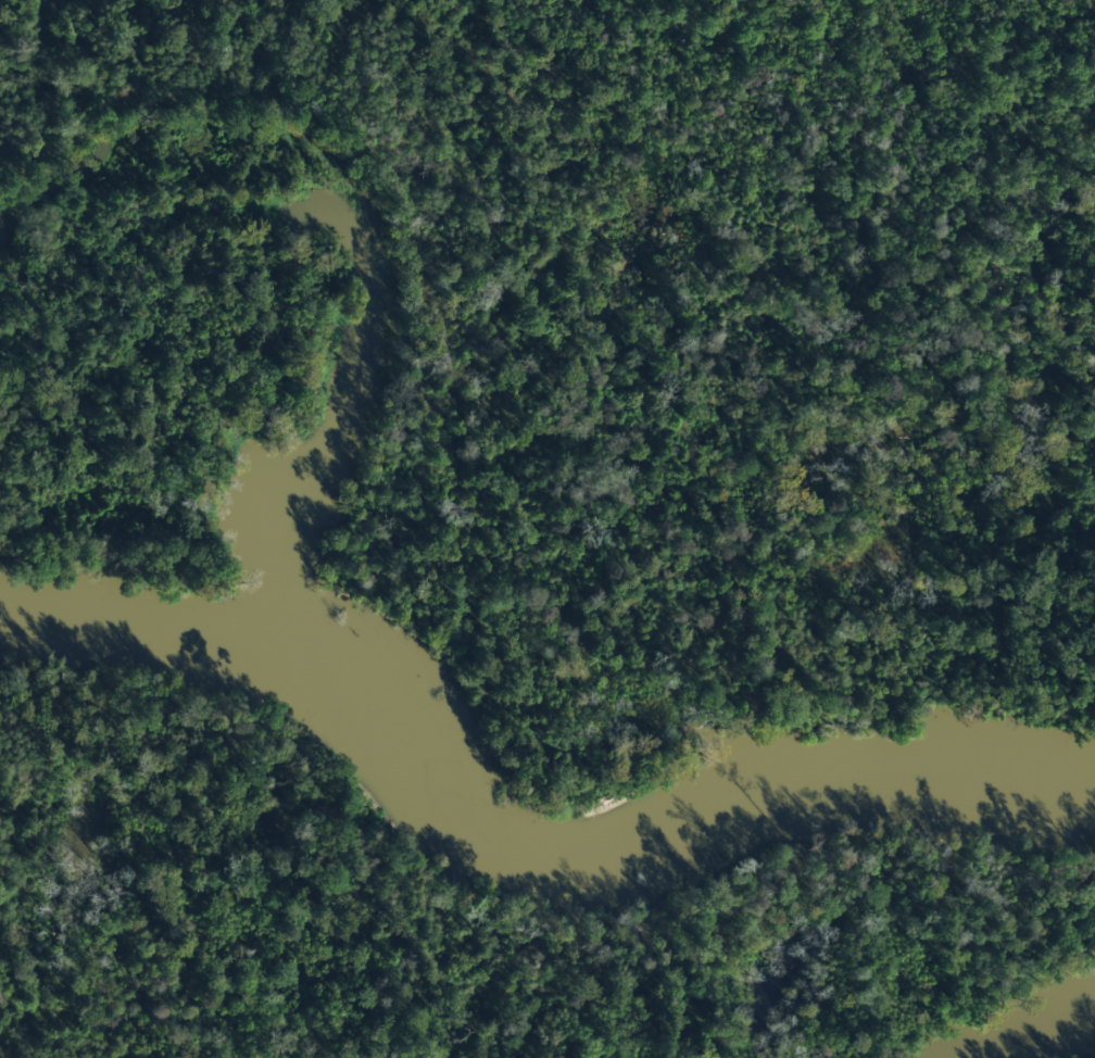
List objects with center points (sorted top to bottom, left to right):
river: (517, 833)
river: (1037, 1026)

